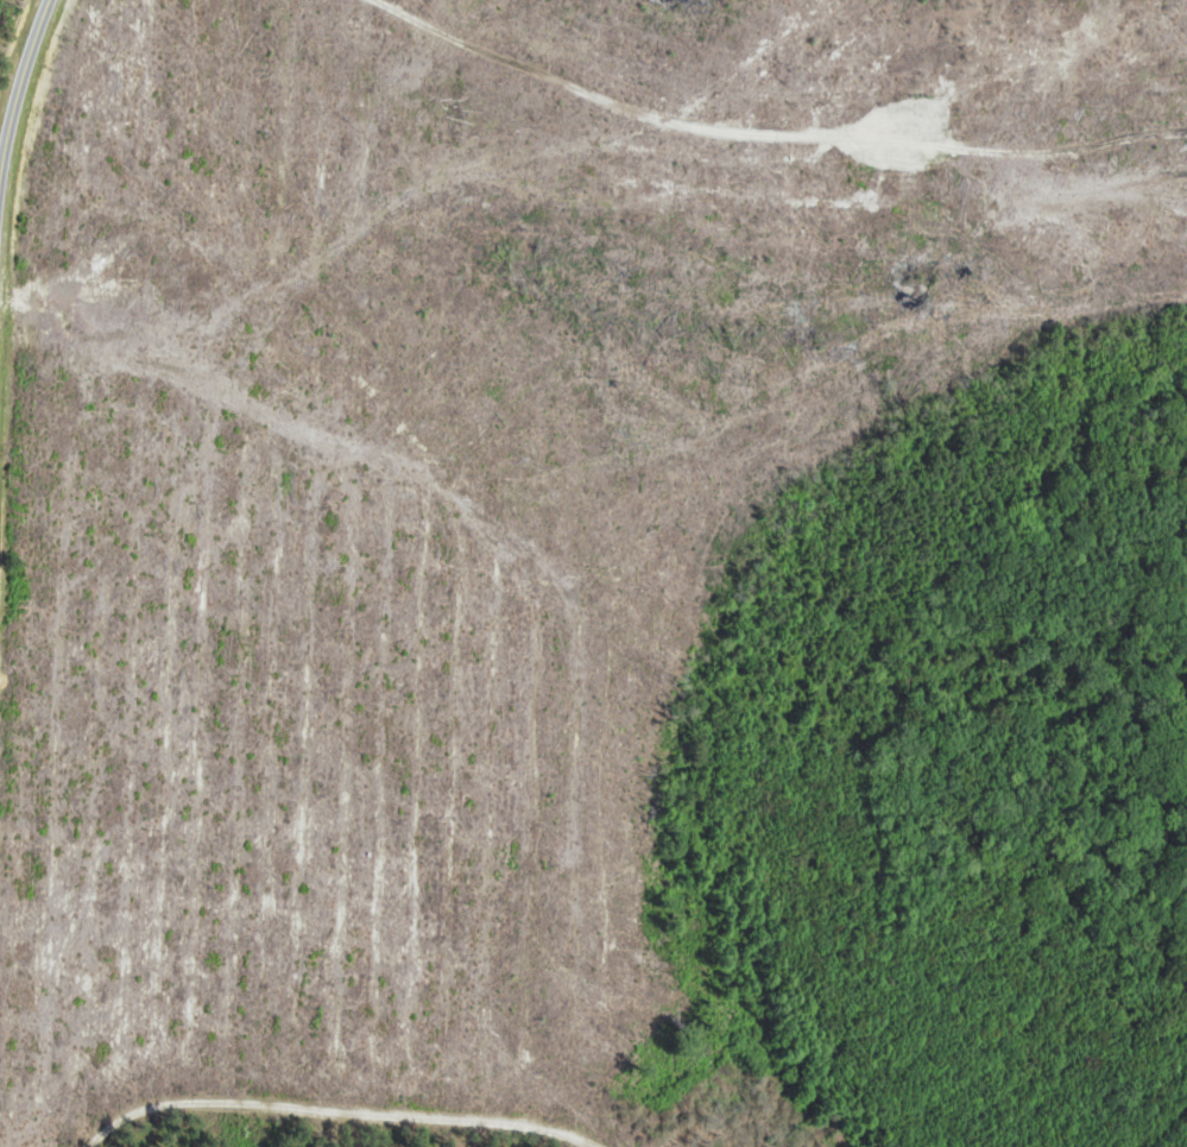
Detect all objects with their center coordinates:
road: (19, 92)

